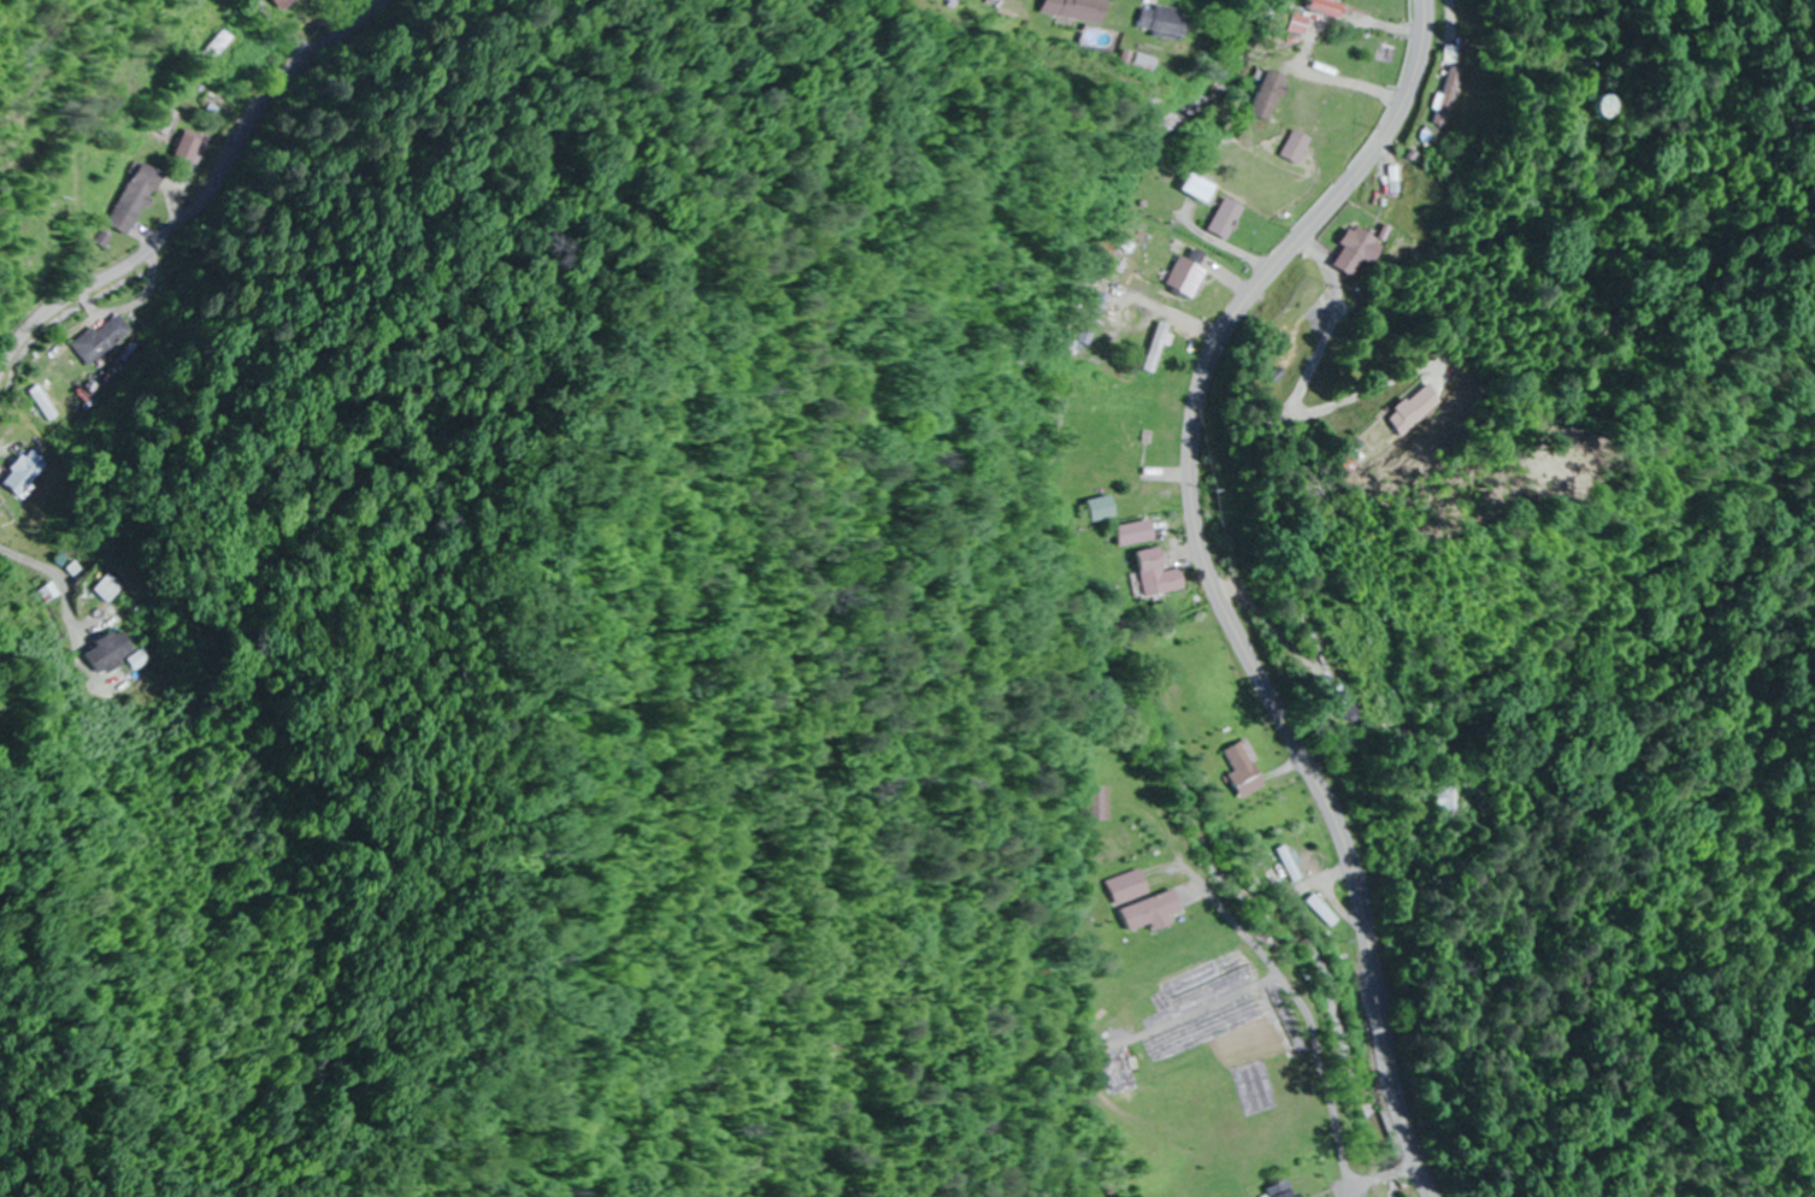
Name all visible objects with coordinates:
building: (290, 5)
road: (1421, 6)
building: (1316, 7)
building: (1080, 10)
building: (1165, 19)
road: (312, 23)
building: (1295, 24)
building: (213, 57)
building: (1259, 95)
building: (1455, 96)
building: (1607, 105)
building: (191, 147)
building: (1294, 147)
building: (141, 199)
road: (204, 204)
building: (1222, 218)
building: (1360, 250)
building: (1185, 275)
building: (104, 337)
building: (1159, 346)
building: (1409, 409)
building: (28, 471)
building: (1100, 508)
building: (1130, 532)
building: (1153, 574)
road: (1216, 583)
building: (120, 650)
building: (1326, 691)
building: (1243, 768)
building: (1442, 797)
building: (1287, 862)
building: (1137, 886)
building: (1160, 912)
building: (1131, 1071)
building: (1279, 1190)

